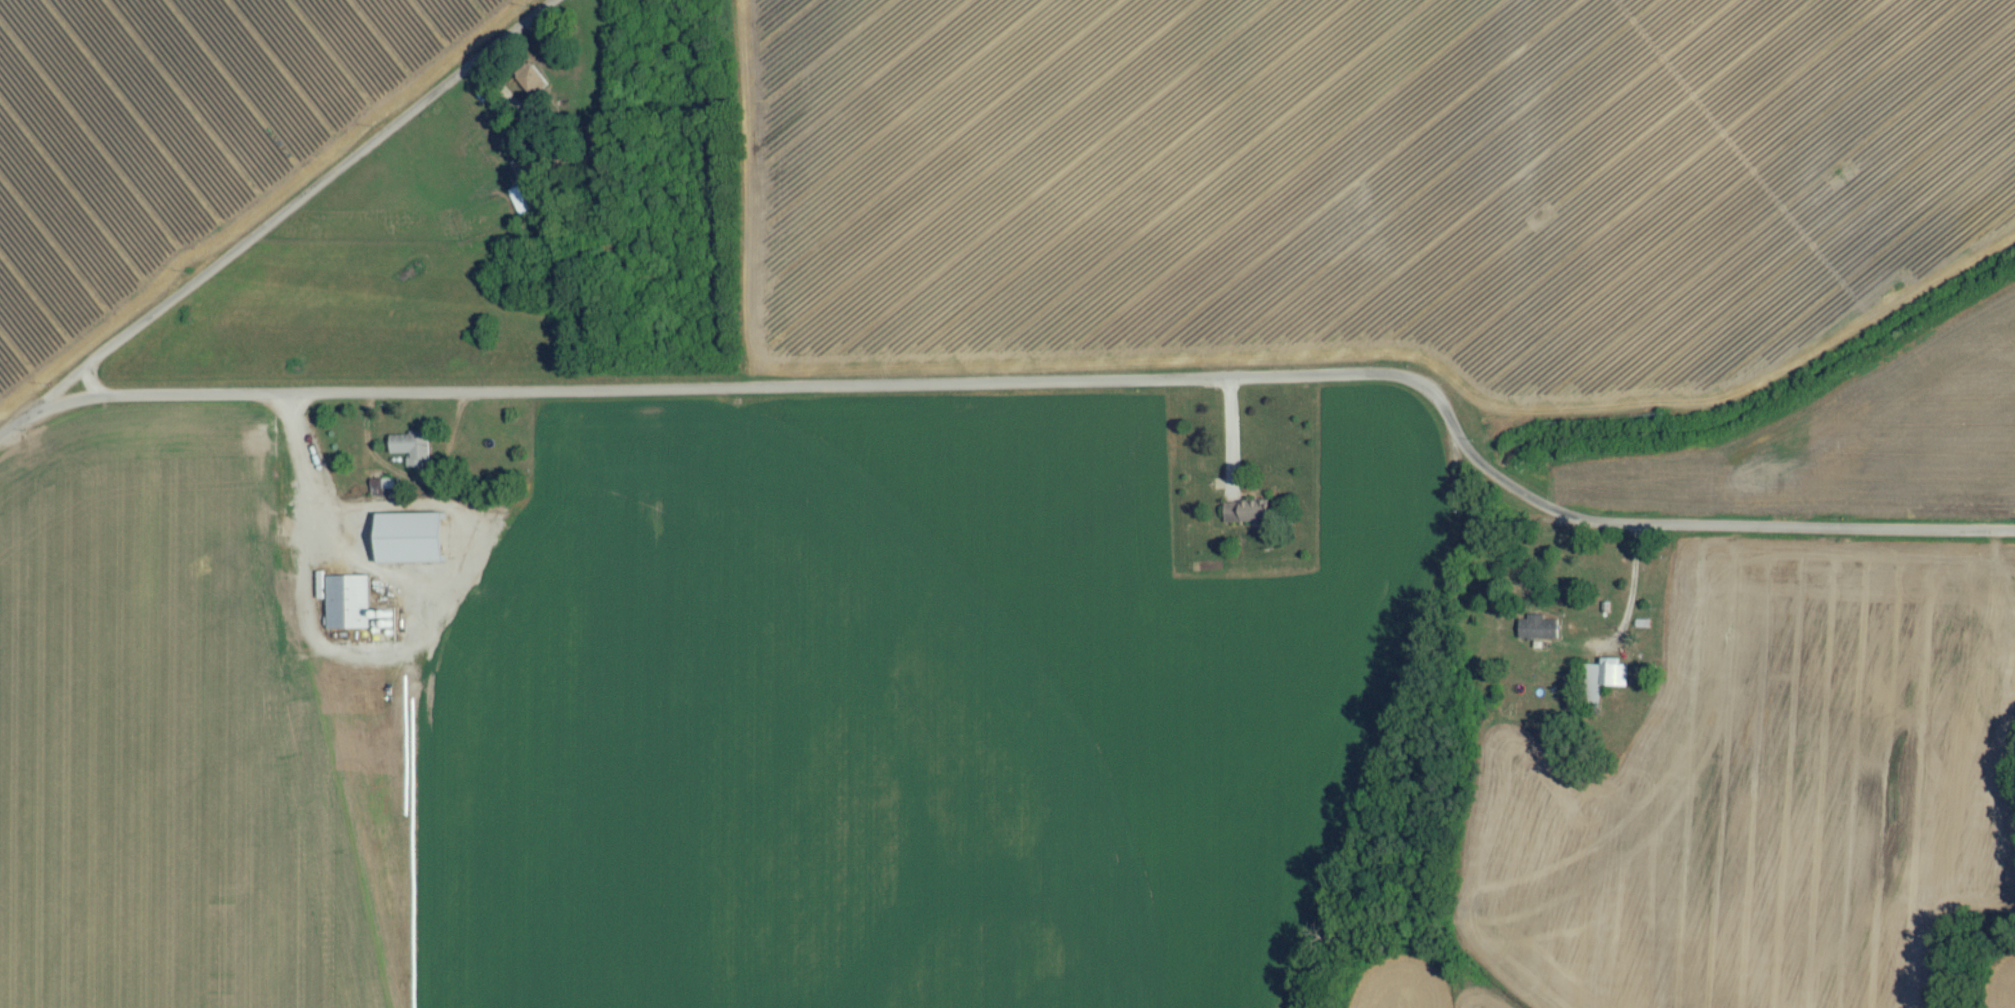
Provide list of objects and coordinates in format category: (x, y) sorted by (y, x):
road: (274, 217)
road: (1066, 377)
road: (1231, 438)
building: (412, 456)
road: (307, 470)
building: (1246, 518)
building: (402, 561)
road: (1630, 589)
building: (348, 610)
building: (1538, 635)
building: (1600, 689)

